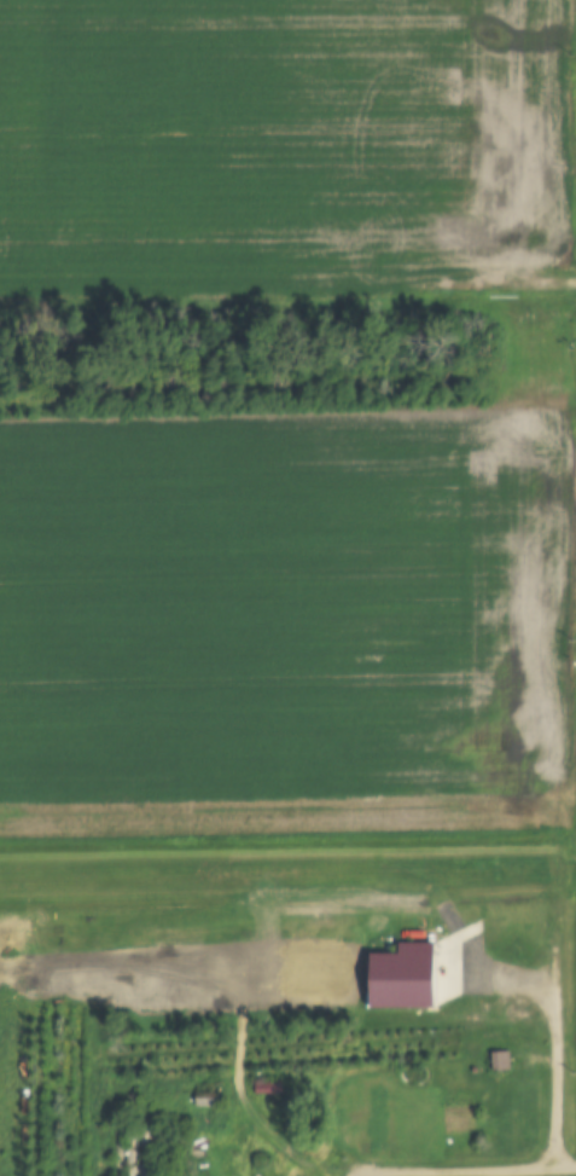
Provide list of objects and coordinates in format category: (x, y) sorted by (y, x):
road: (287, 291)
airport runway: (283, 879)
airport taxiway: (560, 944)
building: (396, 978)
road: (555, 1027)
building: (496, 1062)
building: (204, 1097)
building: (356, 1111)
road: (476, 1175)

